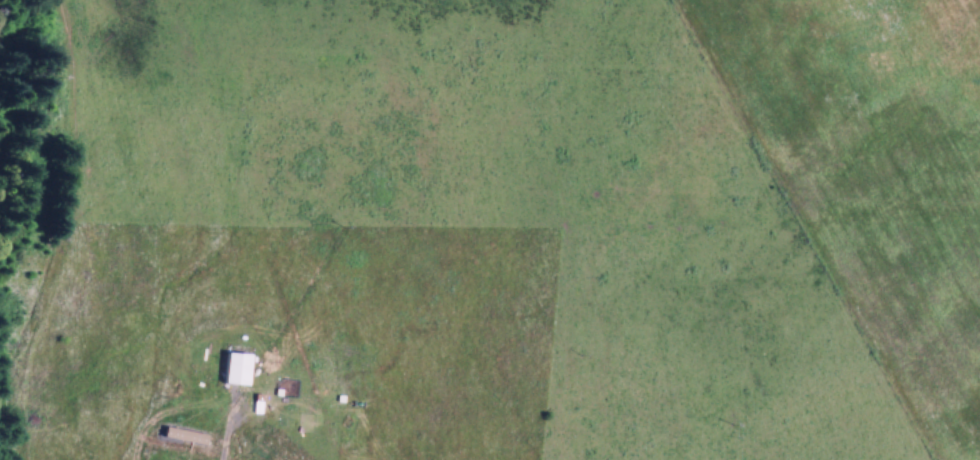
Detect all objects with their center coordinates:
building: (232, 370)
building: (180, 437)

